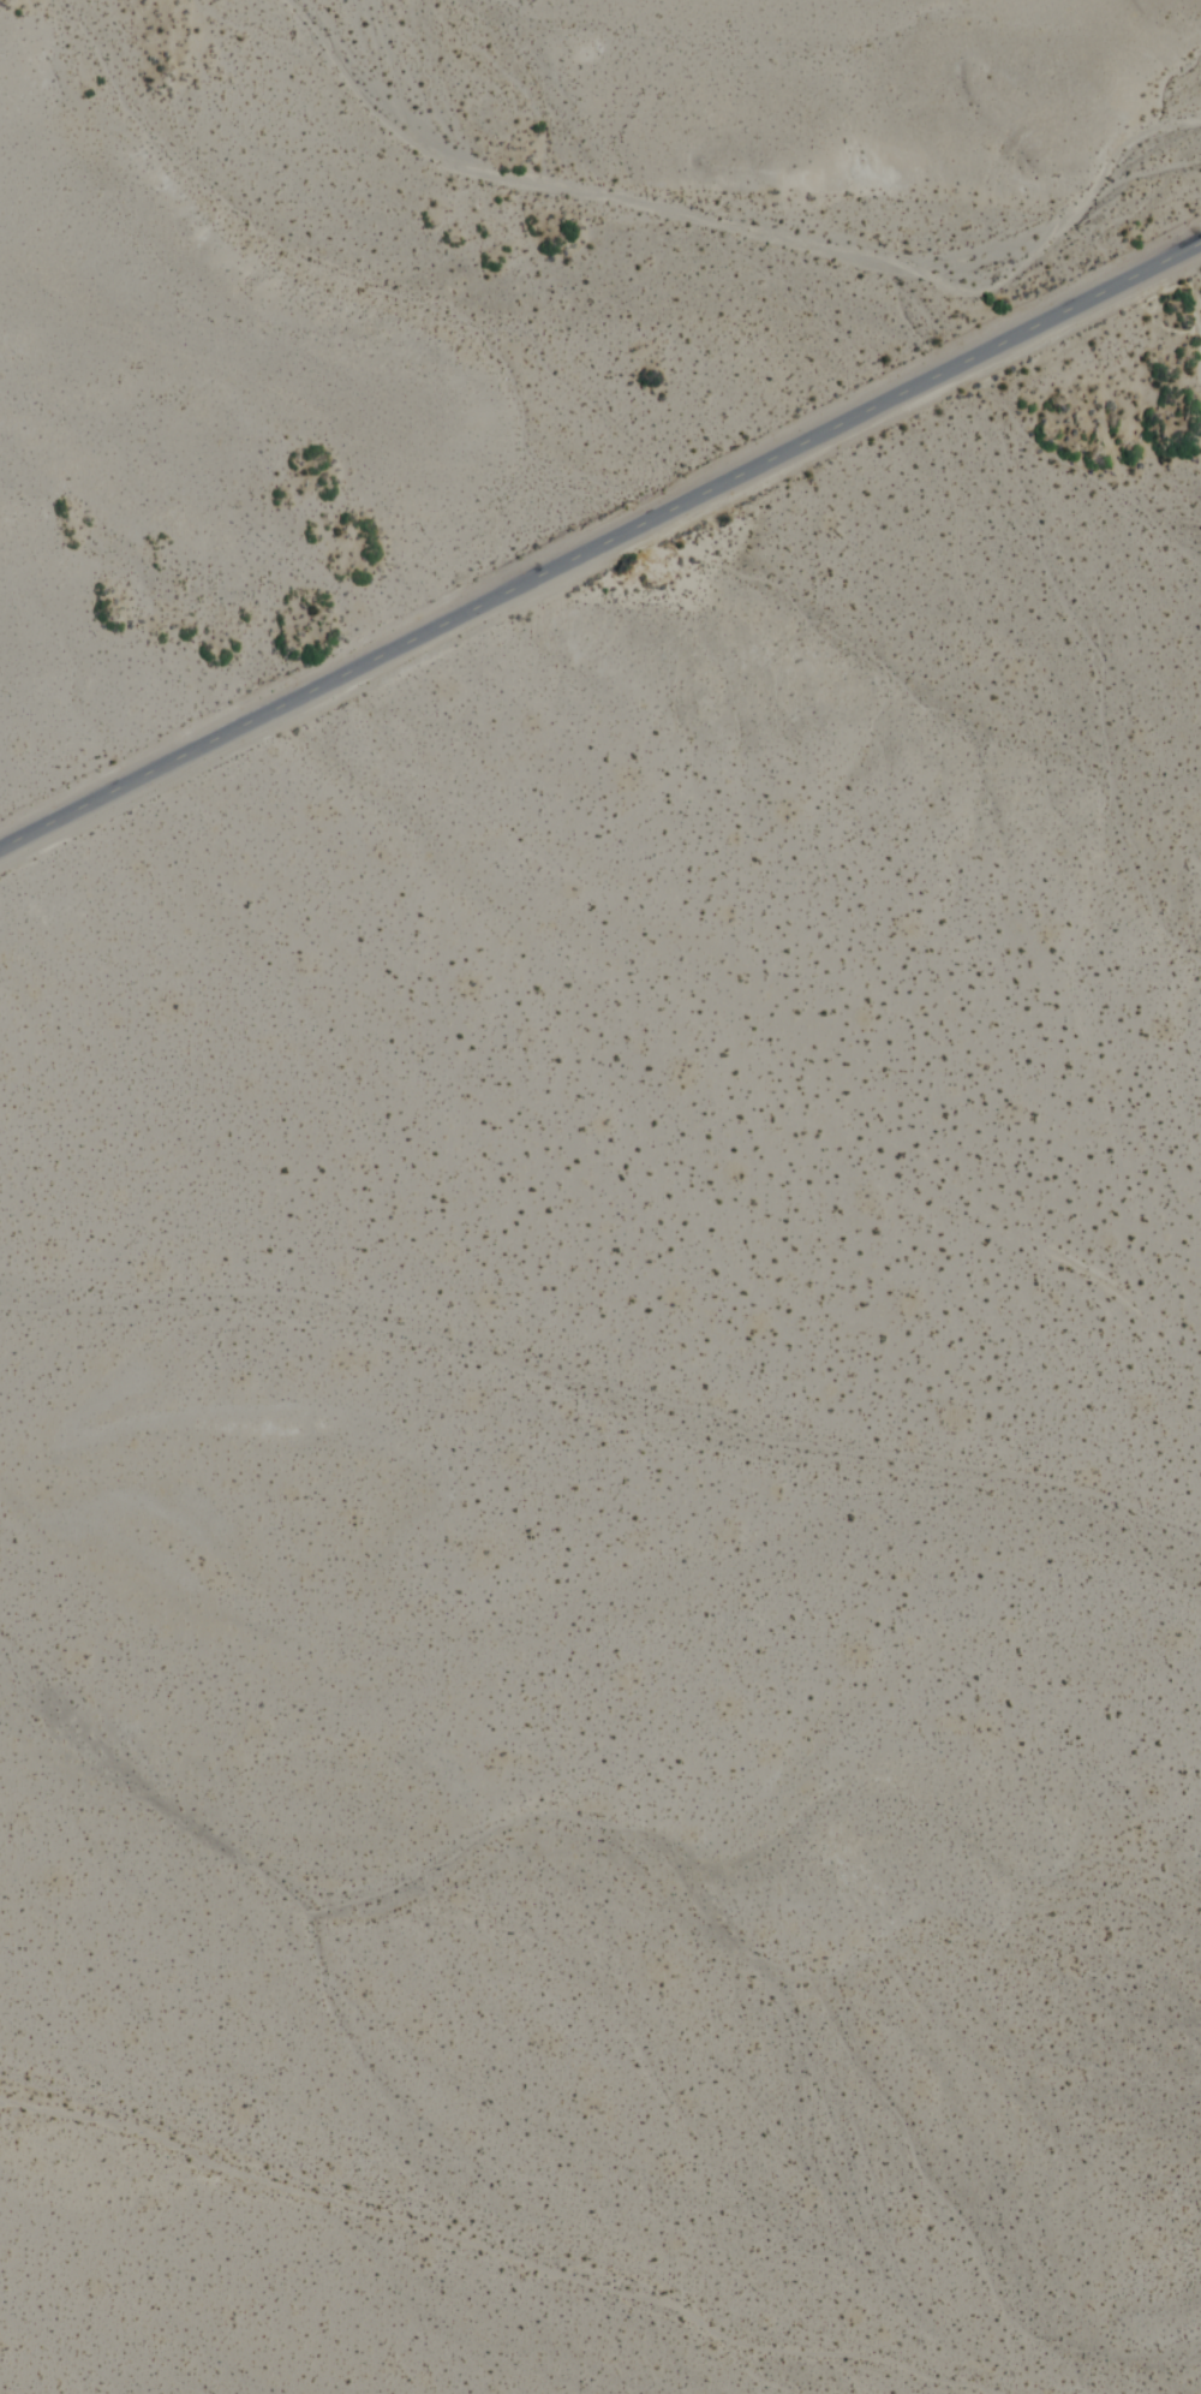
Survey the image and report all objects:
road: (599, 543)

